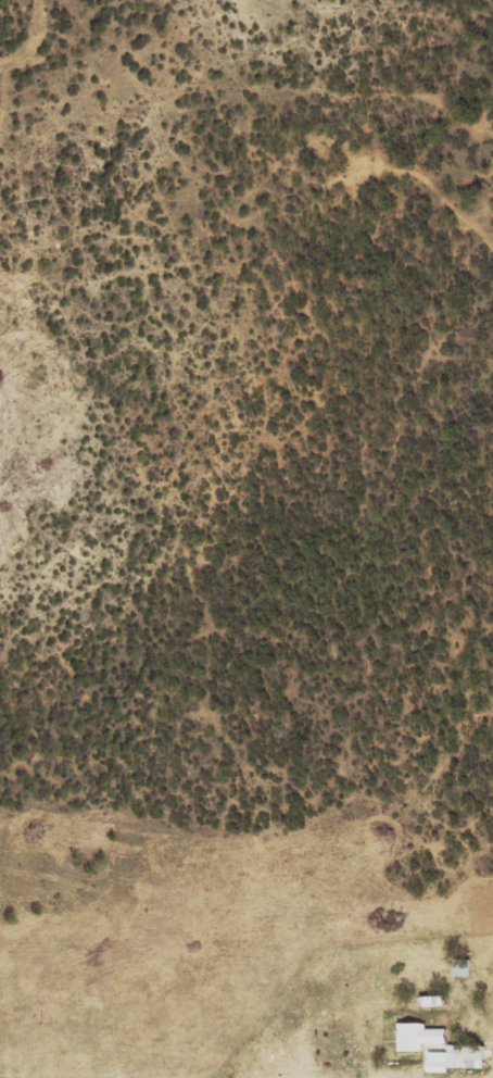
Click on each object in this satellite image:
building: (440, 1048)

